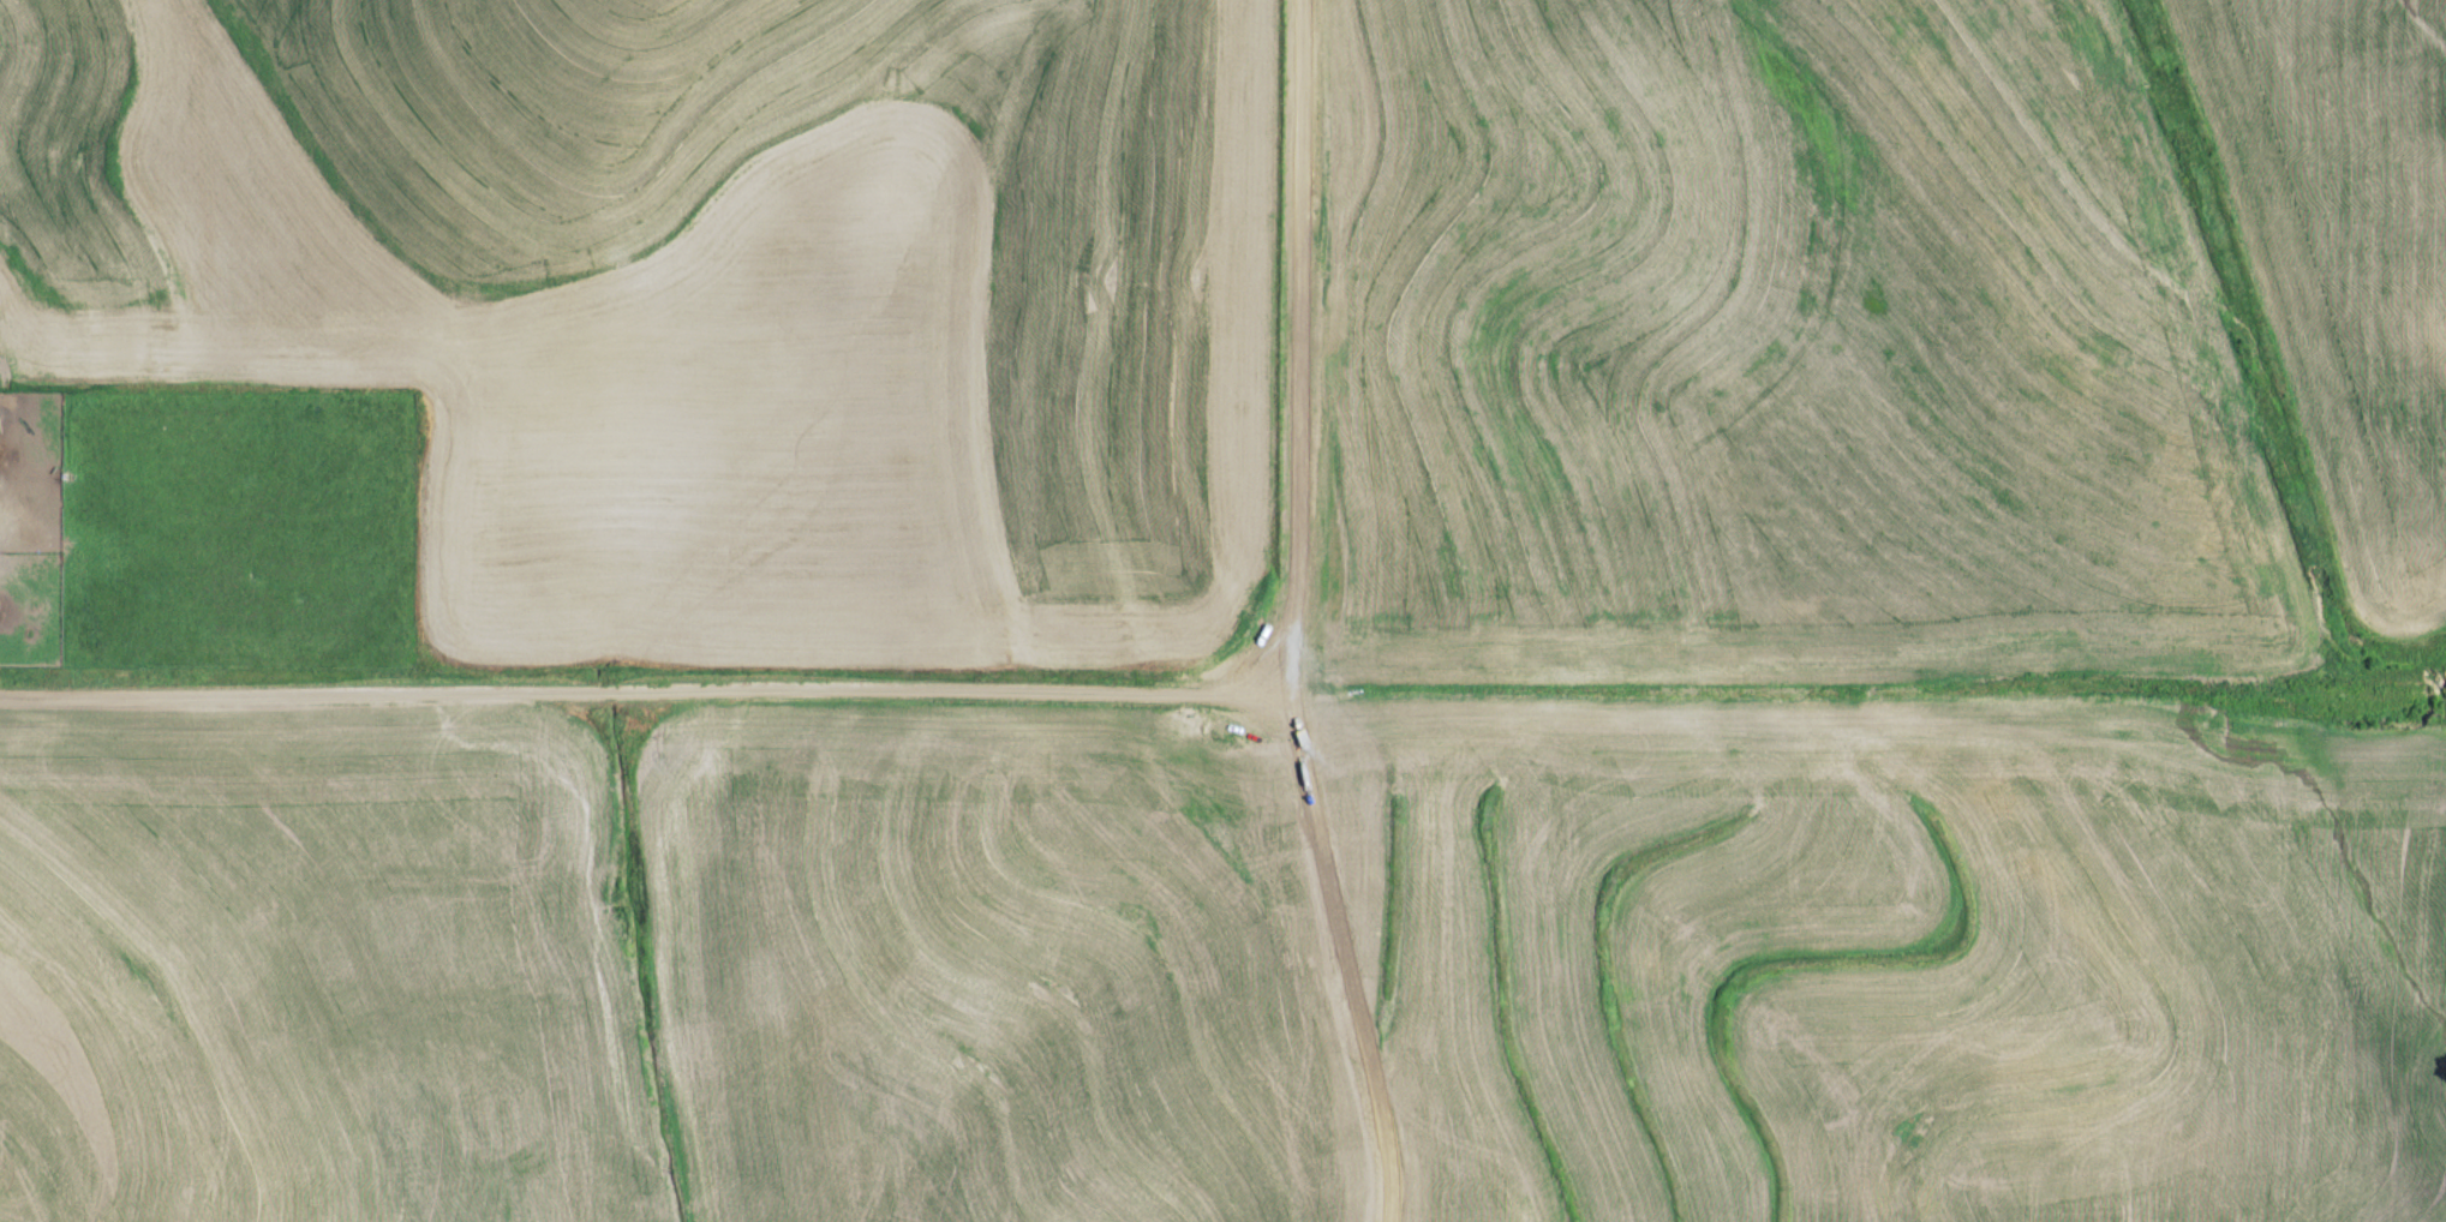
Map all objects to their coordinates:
road: (1304, 349)
road: (1058, 695)

